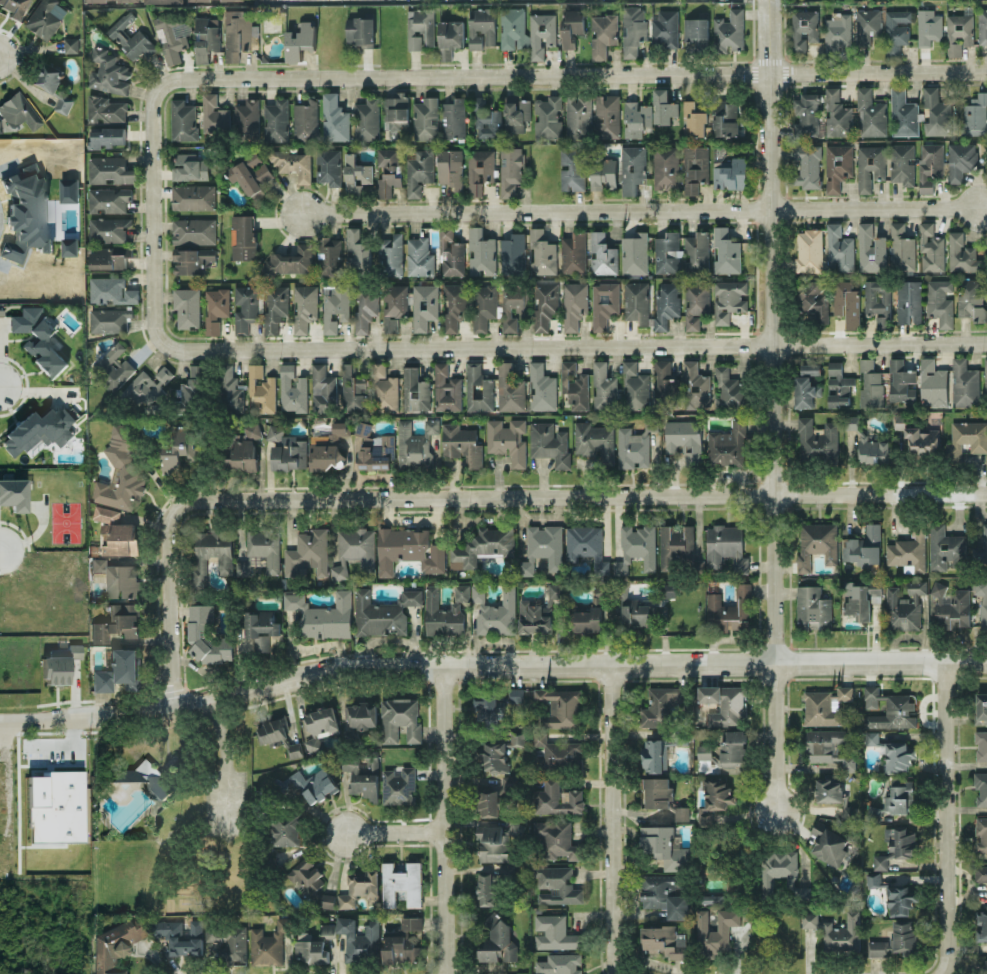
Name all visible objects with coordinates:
building: (109, 0)
building: (163, 0)
building: (223, 0)
building: (14, 7)
building: (46, 17)
building: (867, 24)
building: (983, 25)
building: (419, 26)
building: (928, 26)
building: (482, 27)
building: (512, 27)
building: (570, 27)
building: (694, 27)
building: (632, 28)
building: (665, 28)
building: (803, 28)
building: (730, 29)
building: (896, 29)
building: (360, 30)
building: (838, 31)
building: (959, 31)
building: (542, 32)
building: (603, 33)
building: (237, 34)
building: (450, 36)
building: (131, 37)
building: (171, 39)
building: (205, 39)
building: (299, 40)
building: (70, 44)
building: (108, 72)
road: (575, 74)
building: (52, 84)
building: (663, 106)
building: (104, 108)
building: (19, 111)
building: (395, 112)
building: (515, 112)
building: (936, 112)
building: (870, 113)
building: (903, 113)
building: (214, 114)
building: (806, 114)
building: (837, 114)
building: (578, 115)
building: (975, 115)
building: (607, 116)
building: (724, 116)
building: (547, 117)
building: (694, 117)
building: (334, 118)
building: (454, 118)
building: (485, 118)
building: (636, 118)
building: (247, 119)
building: (277, 119)
building: (367, 119)
building: (425, 119)
building: (183, 120)
building: (305, 120)
building: (0, 126)
building: (105, 136)
building: (960, 159)
building: (292, 163)
building: (884, 164)
building: (329, 165)
building: (807, 165)
building: (837, 165)
building: (929, 165)
building: (190, 166)
building: (632, 166)
building: (666, 166)
building: (450, 167)
building: (510, 167)
building: (571, 167)
building: (695, 167)
building: (480, 168)
building: (109, 169)
building: (419, 169)
building: (387, 170)
building: (602, 170)
building: (250, 172)
building: (730, 172)
building: (355, 175)
building: (68, 189)
building: (193, 196)
building: (108, 198)
road: (642, 209)
building: (25, 212)
road: (154, 212)
building: (109, 228)
building: (193, 230)
building: (243, 235)
building: (69, 245)
building: (839, 247)
building: (901, 247)
building: (930, 247)
building: (725, 249)
building: (870, 249)
building: (808, 250)
building: (480, 251)
building: (665, 251)
building: (357, 252)
building: (450, 252)
building: (542, 252)
building: (573, 252)
building: (633, 252)
building: (696, 252)
building: (512, 253)
building: (602, 253)
building: (961, 253)
building: (390, 255)
building: (329, 256)
building: (419, 256)
building: (106, 258)
building: (190, 259)
building: (292, 259)
building: (111, 289)
building: (728, 298)
building: (813, 299)
building: (696, 300)
building: (635, 301)
building: (877, 301)
building: (908, 301)
building: (939, 301)
building: (574, 302)
building: (846, 302)
building: (424, 304)
building: (454, 304)
building: (545, 304)
building: (604, 304)
building: (666, 304)
building: (274, 305)
building: (304, 305)
building: (334, 305)
building: (394, 305)
building: (186, 306)
building: (245, 306)
building: (363, 306)
building: (484, 306)
building: (216, 308)
building: (979, 313)
building: (109, 318)
building: (38, 340)
road: (575, 344)
building: (112, 367)
building: (985, 376)
building: (901, 381)
building: (964, 383)
building: (870, 384)
building: (933, 384)
building: (574, 385)
building: (695, 385)
building: (838, 385)
building: (150, 386)
building: (603, 386)
building: (635, 386)
building: (665, 386)
building: (806, 386)
building: (193, 387)
building: (541, 387)
building: (262, 388)
building: (323, 388)
building: (352, 388)
building: (446, 388)
building: (478, 388)
building: (509, 388)
building: (292, 389)
building: (383, 389)
building: (729, 389)
building: (230, 390)
building: (415, 390)
road: (775, 403)
building: (850, 421)
road: (207, 424)
building: (252, 429)
building: (39, 430)
building: (817, 438)
building: (966, 438)
building: (508, 439)
building: (684, 439)
building: (594, 440)
building: (921, 440)
building: (549, 442)
building: (461, 443)
building: (417, 444)
building: (727, 444)
building: (179, 448)
building: (327, 448)
building: (632, 448)
building: (286, 449)
building: (872, 449)
building: (376, 452)
building: (242, 455)
building: (14, 494)
road: (582, 496)
building: (105, 513)
building: (119, 538)
building: (984, 542)
building: (675, 544)
building: (817, 544)
building: (863, 544)
building: (483, 546)
building: (586, 546)
building: (265, 547)
building: (542, 547)
building: (636, 547)
building: (726, 547)
building: (946, 548)
building: (408, 549)
building: (908, 549)
building: (354, 550)
road: (1, 551)
building: (212, 551)
building: (307, 553)
building: (244, 567)
building: (117, 578)
building: (666, 589)
building: (461, 591)
building: (862, 599)
building: (982, 601)
road: (171, 605)
building: (904, 606)
building: (950, 606)
building: (812, 607)
building: (729, 609)
building: (495, 610)
building: (539, 611)
building: (591, 611)
building: (383, 612)
building: (637, 613)
building: (323, 614)
building: (441, 614)
building: (116, 622)
building: (261, 628)
building: (205, 636)
road: (490, 665)
building: (119, 671)
building: (496, 704)
building: (660, 705)
building: (825, 705)
building: (560, 707)
building: (981, 708)
building: (889, 709)
building: (362, 715)
building: (399, 719)
building: (320, 725)
building: (273, 729)
road: (6, 733)
building: (517, 737)
building: (871, 737)
building: (981, 745)
building: (828, 747)
road: (69, 748)
building: (295, 749)
building: (727, 750)
building: (660, 751)
building: (557, 753)
building: (494, 756)
building: (898, 756)
road: (225, 765)
building: (143, 777)
building: (362, 778)
building: (312, 784)
building: (399, 785)
building: (981, 787)
building: (828, 788)
building: (656, 791)
building: (717, 793)
building: (557, 798)
building: (895, 798)
building: (487, 802)
building: (57, 806)
building: (682, 813)
building: (708, 816)
road: (616, 818)
road: (944, 818)
road: (448, 819)
building: (516, 828)
building: (285, 829)
road: (397, 830)
building: (981, 834)
building: (555, 839)
building: (901, 842)
building: (492, 843)
building: (829, 844)
building: (665, 846)
building: (880, 861)
building: (779, 867)
building: (980, 872)
building: (307, 876)
building: (873, 879)
building: (402, 883)
building: (557, 884)
building: (359, 888)
building: (486, 890)
building: (664, 893)
building: (712, 898)
building: (900, 899)
building: (327, 900)
building: (411, 922)
building: (984, 927)
building: (327, 929)
building: (837, 930)
building: (716, 931)
building: (555, 932)
building: (181, 933)
building: (359, 939)
building: (499, 939)
building: (895, 939)
building: (663, 940)
building: (228, 943)
building: (268, 943)
building: (116, 944)
building: (400, 947)
building: (310, 950)
building: (560, 963)
building: (986, 966)
road: (621, 973)

